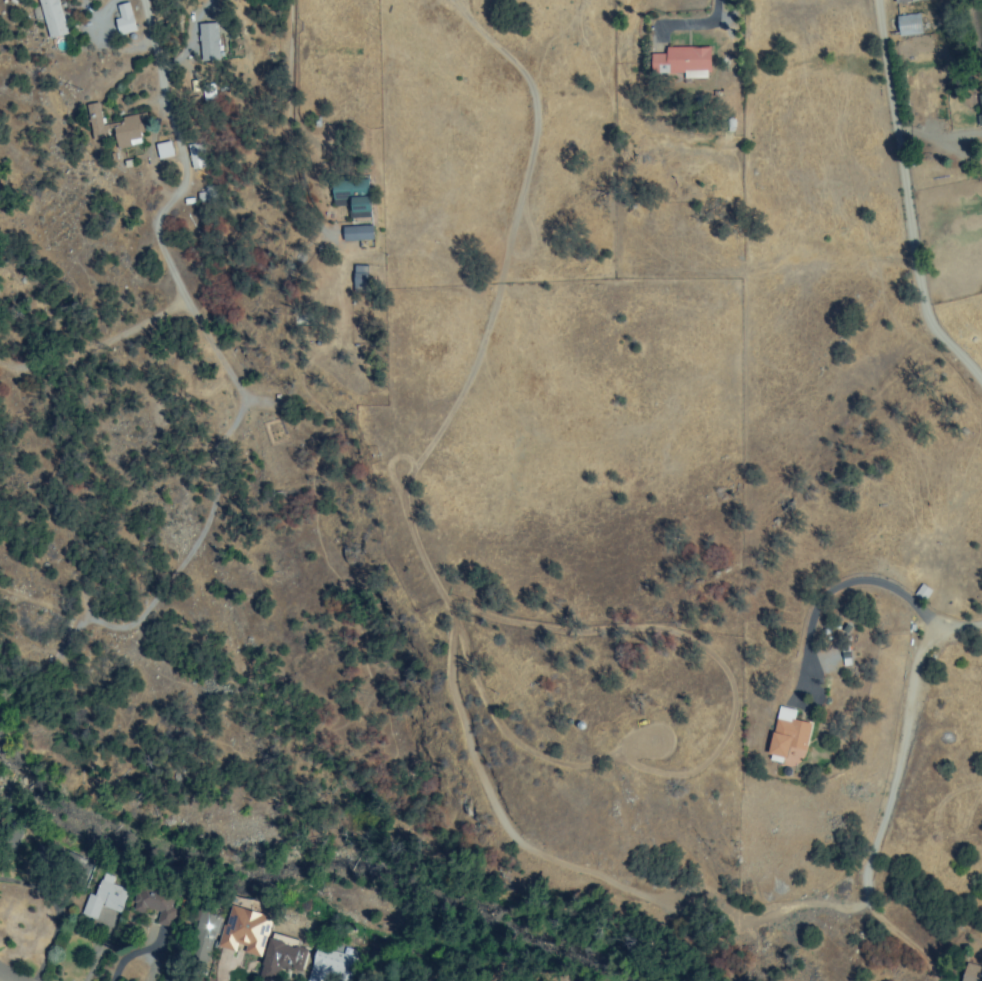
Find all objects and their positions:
building: (910, 2)
building: (49, 17)
building: (122, 19)
building: (939, 20)
building: (904, 26)
road: (152, 53)
building: (679, 62)
building: (109, 128)
building: (350, 198)
road: (895, 206)
building: (353, 234)
building: (357, 281)
road: (836, 590)
building: (920, 592)
building: (842, 654)
building: (785, 737)
road: (883, 788)
river: (293, 863)
building: (103, 899)
building: (155, 905)
building: (244, 931)
building: (203, 933)
building: (280, 953)
building: (328, 966)
river: (639, 967)
road: (12, 975)

